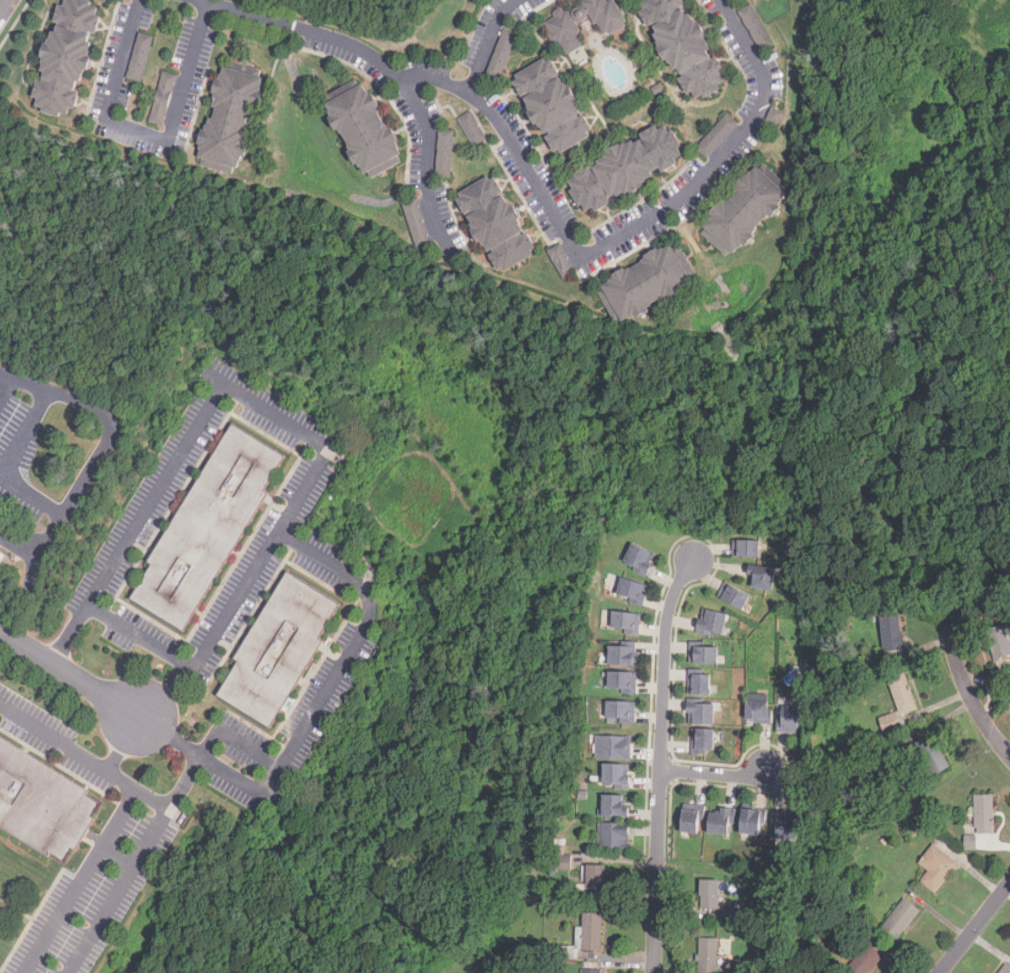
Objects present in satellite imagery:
road: (3, 6)
building: (755, 27)
building: (563, 31)
road: (486, 43)
building: (689, 44)
building: (504, 53)
building: (139, 57)
building: (74, 58)
road: (385, 65)
road: (436, 80)
building: (165, 97)
building: (552, 105)
building: (237, 121)
building: (472, 129)
building: (371, 130)
road: (145, 131)
building: (720, 134)
building: (444, 153)
building: (626, 167)
building: (748, 210)
road: (648, 219)
building: (501, 221)
building: (417, 222)
building: (561, 260)
building: (652, 282)
road: (7, 387)
road: (25, 432)
road: (105, 448)
road: (296, 500)
building: (0, 508)
building: (209, 524)
building: (746, 547)
building: (1, 556)
building: (639, 558)
building: (762, 576)
building: (633, 590)
building: (733, 595)
road: (676, 596)
road: (235, 598)
building: (627, 621)
building: (711, 621)
building: (891, 632)
building: (1000, 641)
building: (280, 646)
road: (165, 652)
building: (620, 654)
building: (704, 655)
road: (69, 673)
building: (622, 681)
building: (700, 684)
road: (963, 685)
building: (902, 692)
building: (757, 709)
building: (620, 710)
building: (700, 711)
building: (790, 718)
building: (890, 722)
building: (702, 738)
road: (235, 739)
building: (612, 746)
road: (79, 750)
building: (930, 755)
building: (615, 774)
road: (715, 774)
road: (137, 785)
building: (45, 801)
road: (659, 803)
building: (613, 804)
building: (984, 813)
building: (686, 819)
building: (715, 820)
building: (745, 820)
building: (781, 824)
building: (613, 835)
road: (133, 863)
building: (936, 867)
road: (79, 879)
building: (595, 880)
building: (709, 893)
building: (900, 918)
road: (975, 928)
building: (591, 930)
building: (707, 955)
building: (863, 961)
building: (1004, 969)
building: (591, 971)

